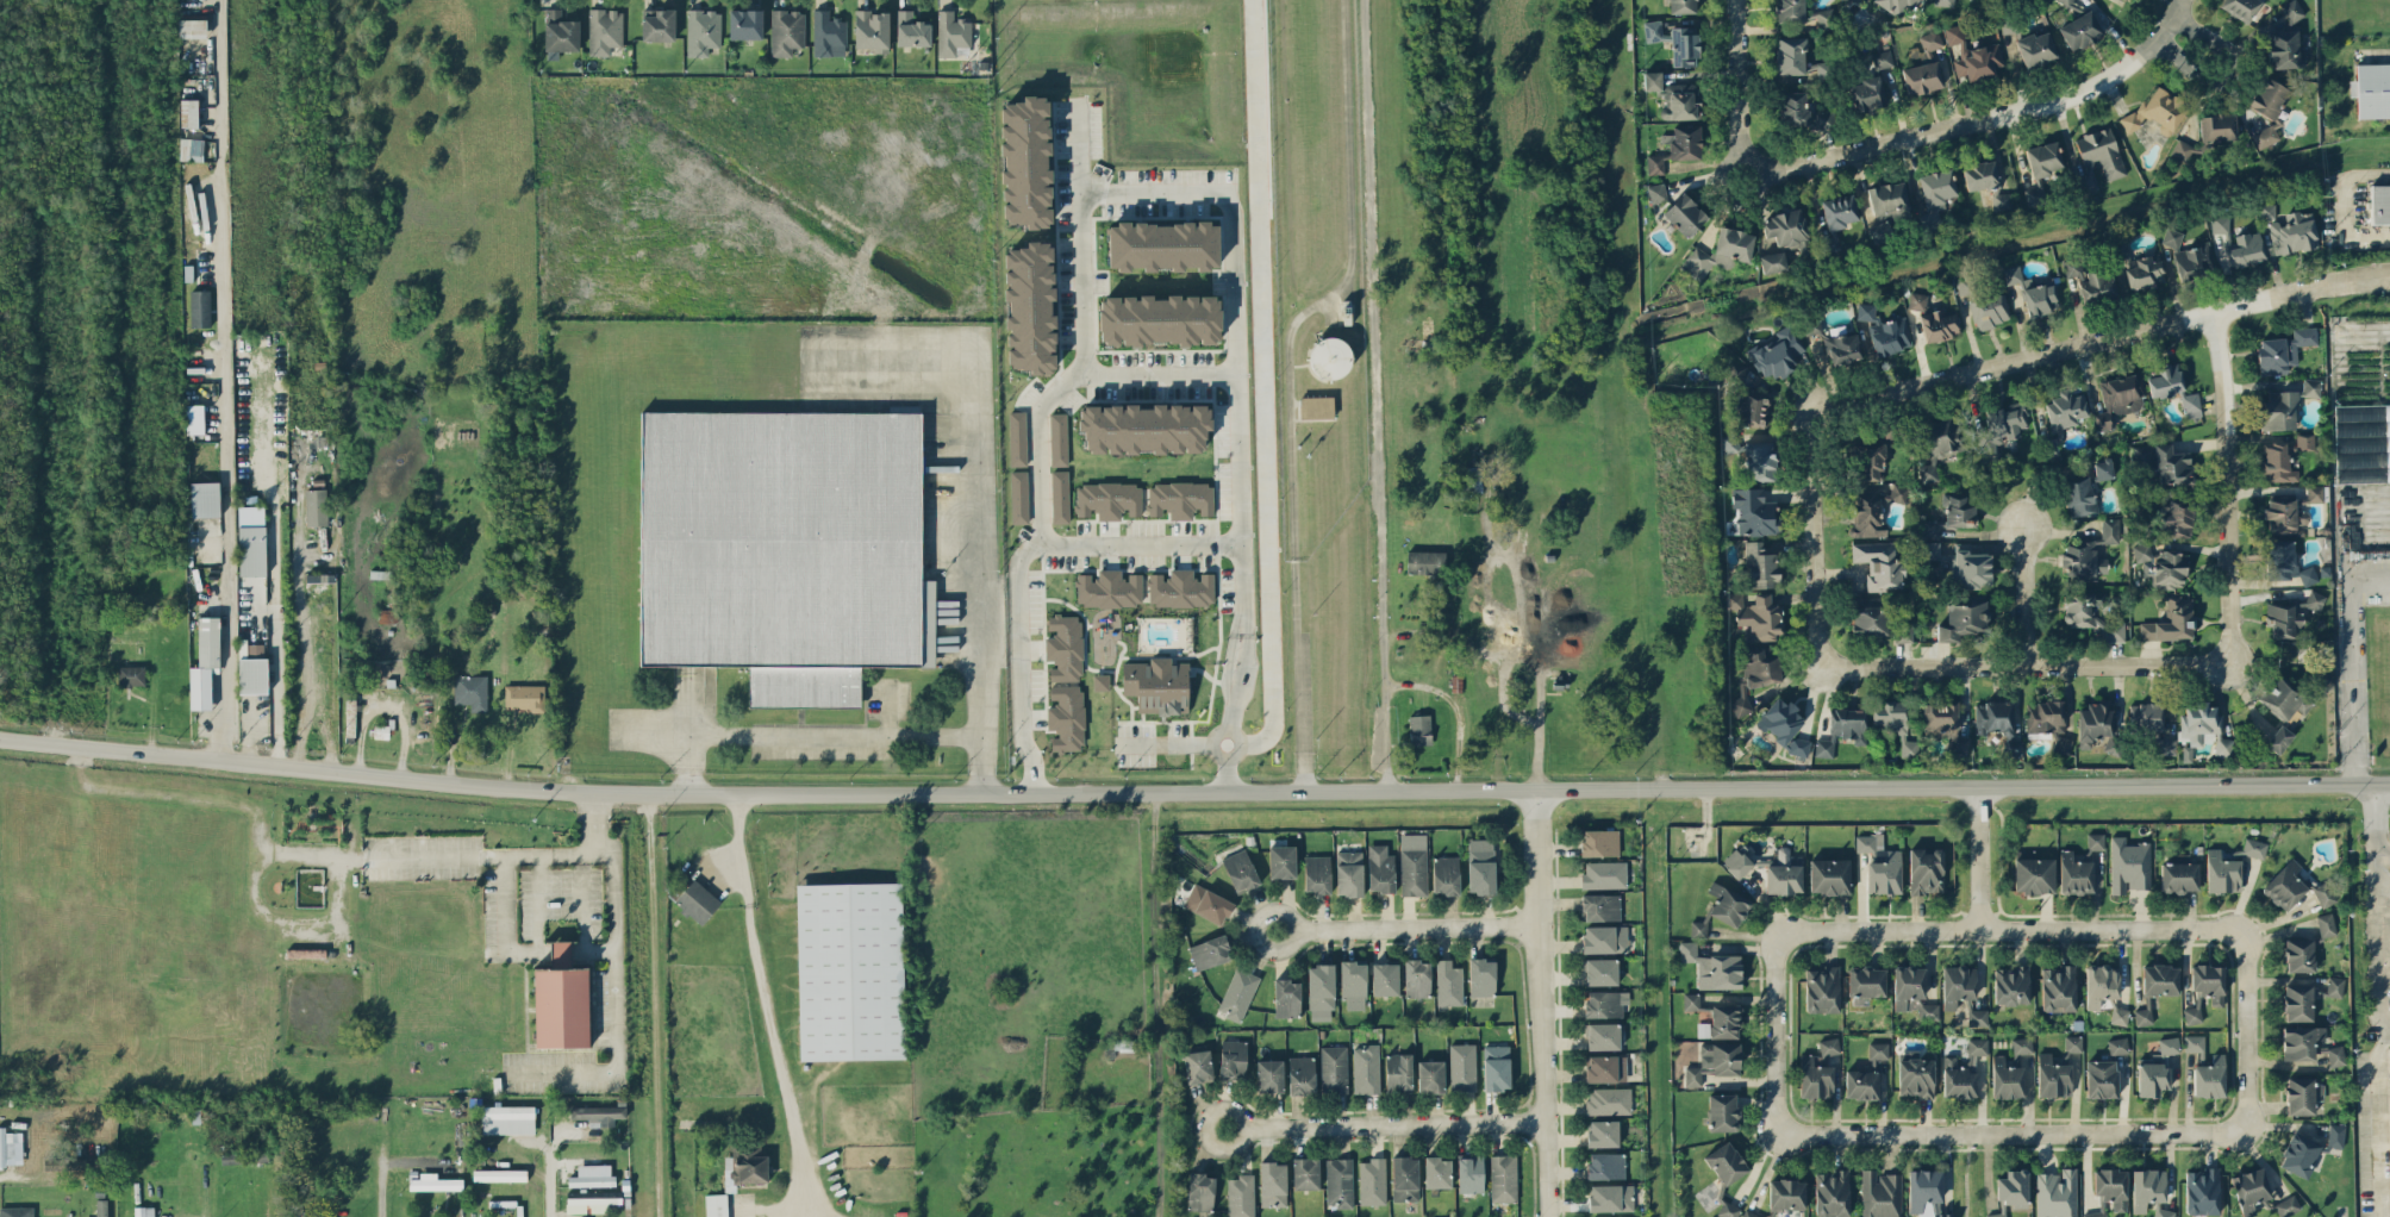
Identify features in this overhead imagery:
building: (1665, 0)
building: (1945, 2)
building: (1683, 6)
building: (1896, 6)
building: (2240, 7)
building: (2292, 10)
building: (1790, 11)
building: (1823, 15)
building: (745, 23)
building: (657, 24)
building: (1653, 29)
building: (193, 30)
building: (561, 30)
building: (604, 30)
building: (872, 30)
building: (911, 30)
building: (2080, 30)
building: (703, 31)
building: (786, 31)
building: (828, 33)
building: (951, 33)
building: (1955, 36)
building: (1929, 43)
building: (1684, 45)
building: (2285, 46)
building: (2036, 48)
building: (1791, 55)
building: (1882, 58)
building: (1980, 61)
building: (1821, 69)
road: (2224, 76)
building: (1922, 77)
building: (1652, 80)
building: (2371, 89)
building: (1867, 93)
building: (1680, 101)
road: (2046, 102)
building: (1793, 108)
building: (2267, 108)
building: (2158, 110)
building: (189, 111)
building: (1822, 119)
building: (2217, 126)
building: (1685, 142)
road: (1749, 142)
building: (191, 149)
building: (2182, 149)
building: (2099, 156)
building: (2045, 157)
building: (1025, 161)
building: (1655, 163)
building: (1980, 175)
building: (1937, 186)
building: (1656, 192)
building: (2035, 193)
building: (1889, 200)
building: (2003, 200)
building: (2379, 202)
road: (2345, 207)
building: (2267, 211)
building: (1685, 214)
building: (1928, 217)
building: (1837, 219)
building: (2221, 223)
building: (1787, 230)
building: (1879, 231)
building: (2295, 232)
building: (2171, 237)
building: (1163, 245)
building: (2247, 249)
building: (1721, 251)
building: (2195, 261)
building: (1773, 262)
building: (2072, 266)
building: (2145, 272)
building: (1965, 285)
building: (2097, 286)
building: (2034, 292)
road: (1234, 297)
building: (1917, 300)
building: (200, 307)
building: (1030, 307)
building: (1989, 310)
building: (1159, 319)
building: (1939, 324)
road: (1075, 330)
building: (1884, 330)
road: (2077, 344)
building: (2283, 350)
building: (1776, 354)
building: (1330, 355)
road: (1150, 369)
road: (224, 376)
road: (1288, 380)
building: (2166, 380)
building: (2310, 387)
road: (1260, 389)
building: (2118, 398)
building: (2191, 405)
building: (1316, 406)
building: (1751, 410)
building: (2279, 410)
building: (194, 418)
building: (2061, 418)
building: (1144, 427)
building: (2001, 427)
building: (1017, 438)
building: (1059, 438)
building: (2305, 441)
building: (2361, 441)
building: (1939, 444)
building: (1759, 460)
building: (1870, 460)
building: (2141, 460)
building: (2278, 460)
building: (2172, 464)
building: (2103, 468)
building: (1473, 479)
road: (2226, 485)
building: (1060, 495)
building: (1019, 497)
building: (2078, 497)
building: (205, 498)
building: (1107, 499)
building: (1180, 499)
building: (316, 506)
building: (1959, 507)
building: (2290, 510)
building: (1754, 511)
road: (969, 513)
building: (1865, 513)
building: (2176, 517)
building: (1930, 529)
building: (2109, 529)
road: (1104, 541)
building: (784, 548)
building: (252, 549)
building: (2141, 551)
building: (2079, 560)
building: (1425, 561)
building: (2282, 561)
building: (1761, 563)
building: (1878, 564)
building: (1962, 564)
road: (1821, 567)
road: (274, 570)
road: (320, 585)
building: (1181, 587)
building: (1109, 588)
road: (2017, 595)
building: (2315, 599)
building: (2092, 614)
building: (1965, 617)
building: (1760, 618)
building: (2285, 618)
building: (2171, 619)
building: (1877, 620)
building: (1063, 648)
road: (2353, 657)
building: (205, 662)
road: (2028, 662)
building: (1760, 664)
building: (131, 675)
building: (252, 675)
building: (1100, 681)
building: (1157, 685)
building: (470, 691)
building: (524, 697)
building: (2285, 697)
road: (1385, 700)
building: (1740, 705)
building: (2045, 716)
building: (2147, 716)
building: (1066, 717)
building: (1939, 717)
building: (1998, 723)
building: (1895, 724)
building: (1784, 725)
building: (2098, 726)
building: (2204, 726)
building: (1419, 729)
building: (1842, 729)
road: (1537, 730)
building: (381, 731)
road: (807, 734)
building: (2279, 738)
road: (1171, 742)
building: (1959, 742)
building: (2061, 743)
building: (2163, 745)
road: (82, 753)
road: (1221, 764)
road: (80, 770)
road: (1193, 788)
building: (1599, 842)
building: (2254, 848)
road: (550, 851)
road: (2384, 851)
road: (300, 854)
road: (1982, 855)
building: (1281, 861)
building: (1736, 862)
building: (1412, 863)
building: (1480, 865)
building: (1880, 865)
building: (2129, 865)
building: (2079, 866)
building: (1348, 868)
building: (1380, 868)
building: (1240, 869)
building: (1926, 870)
building: (2222, 872)
building: (1316, 873)
building: (1446, 874)
building: (1604, 874)
building: (2034, 874)
building: (1830, 875)
building: (2179, 876)
road: (2384, 881)
building: (2284, 885)
building: (675, 886)
building: (2325, 894)
building: (697, 900)
road: (2378, 901)
building: (1208, 904)
building: (1600, 906)
building: (1721, 909)
road: (318, 917)
building: (2326, 924)
road: (1405, 928)
road: (1780, 930)
road: (2114, 930)
building: (1604, 938)
road: (572, 950)
building: (1209, 951)
building: (314, 953)
building: (2301, 954)
road: (613, 966)
building: (1714, 967)
building: (850, 971)
building: (1600, 971)
building: (1481, 976)
building: (1384, 978)
building: (1416, 978)
building: (2161, 979)
building: (2209, 981)
building: (1448, 982)
building: (1353, 984)
building: (1866, 984)
building: (2102, 984)
building: (1958, 985)
building: (2014, 985)
building: (2334, 986)
building: (2059, 987)
building: (1823, 988)
building: (1321, 991)
building: (1912, 991)
building: (1237, 993)
building: (1286, 998)
building: (2389, 999)
building: (561, 1000)
road: (654, 1000)
road: (766, 1000)
building: (1691, 1000)
road: (1539, 1001)
building: (1605, 1003)
building: (2299, 1003)
building: (2192, 1015)
building: (2120, 1016)
building: (2142, 1016)
building: (1977, 1017)
building: (1724, 1021)
road: (2385, 1026)
building: (1703, 1029)
road: (2245, 1031)
building: (1602, 1035)
building: (2301, 1041)
building: (2195, 1042)
building: (2073, 1043)
building: (1125, 1044)
building: (2022, 1044)
building: (2117, 1044)
building: (2169, 1044)
building: (1829, 1046)
building: (1878, 1049)
building: (2336, 1055)
building: (1233, 1057)
building: (1714, 1061)
building: (1198, 1066)
building: (1462, 1066)
building: (1496, 1067)
building: (1333, 1068)
building: (1366, 1068)
building: (1605, 1068)
building: (1962, 1069)
building: (1398, 1071)
building: (1302, 1074)
building: (1269, 1075)
building: (1430, 1075)
building: (1816, 1075)
building: (2153, 1075)
building: (1916, 1076)
building: (2053, 1076)
building: (2210, 1076)
building: (2101, 1078)
building: (2007, 1079)
building: (1861, 1084)
building: (2303, 1096)
building: (1608, 1100)
building: (1722, 1111)
building: (599, 1115)
building: (507, 1119)
road: (2382, 1122)
road: (1383, 1126)
building: (1603, 1132)
road: (2013, 1132)
building: (2336, 1135)
building: (2298, 1154)
building: (245, 1156)
building: (85, 1162)
building: (1726, 1162)
building: (749, 1165)
building: (1605, 1165)
building: (1437, 1172)
building: (1305, 1173)
building: (1469, 1173)
road: (15, 1174)
road: (1967, 1174)
building: (592, 1175)
building: (1404, 1178)
building: (1503, 1178)
building: (433, 1181)
building: (1338, 1181)
building: (1372, 1181)
road: (545, 1184)
building: (1272, 1184)
building: (2111, 1186)
building: (2014, 1188)
building: (2147, 1188)
building: (2251, 1190)
road: (206, 1191)
building: (1200, 1191)
building: (2203, 1191)
building: (1833, 1192)
building: (1926, 1192)
building: (1880, 1193)
building: (2057, 1193)
road: (381, 1194)
building: (1787, 1194)
building: (1240, 1196)
building: (1610, 1197)
building: (591, 1198)
building: (716, 1205)
building: (2288, 1205)
building: (1728, 1209)
building: (15, 1211)
building: (144, 1211)
building: (2163, 1212)
building: (101, 1213)
building: (1749, 1213)
building: (2095, 1213)
building: (1997, 1215)
building: (1614, 1216)

